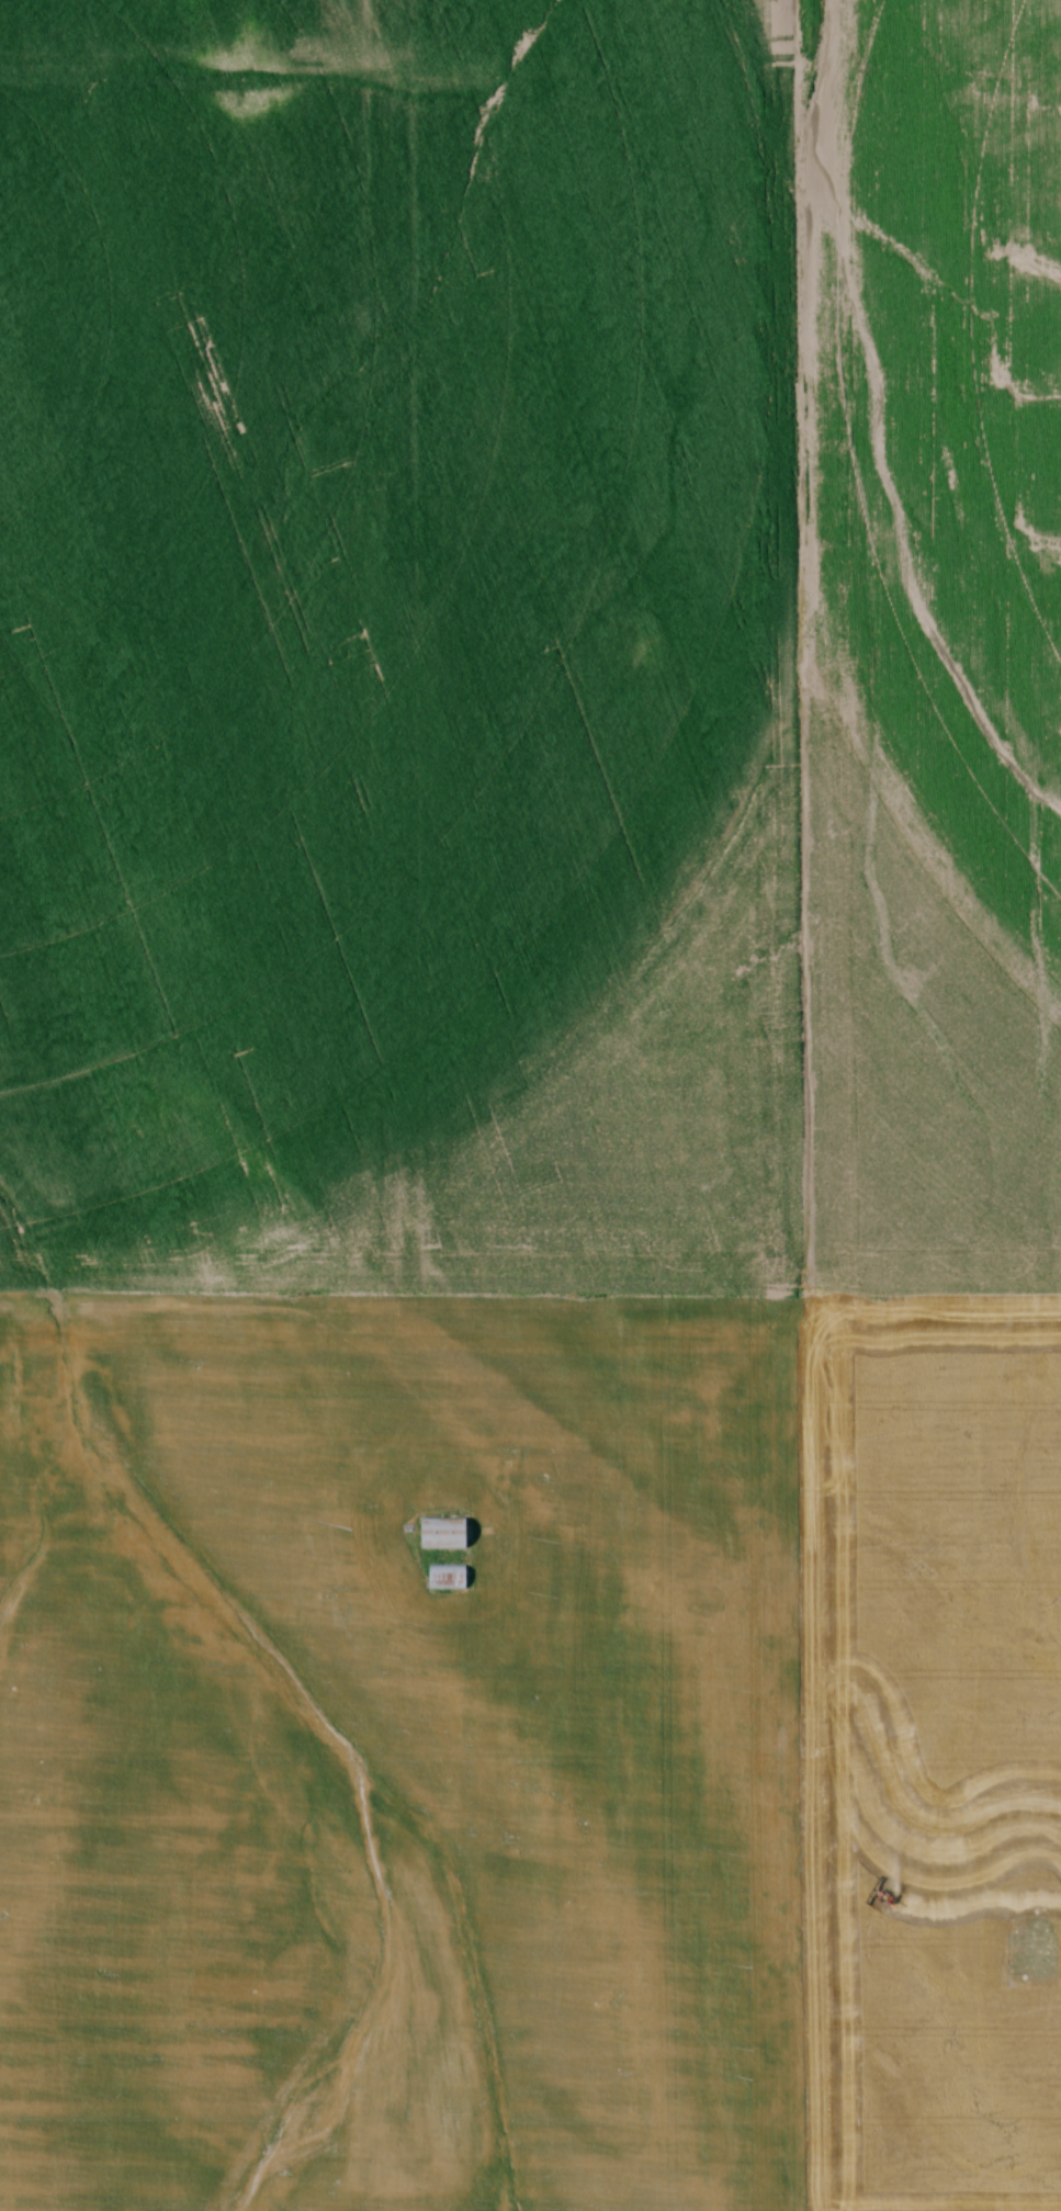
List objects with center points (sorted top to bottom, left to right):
building: (440, 1534)
building: (444, 1577)

